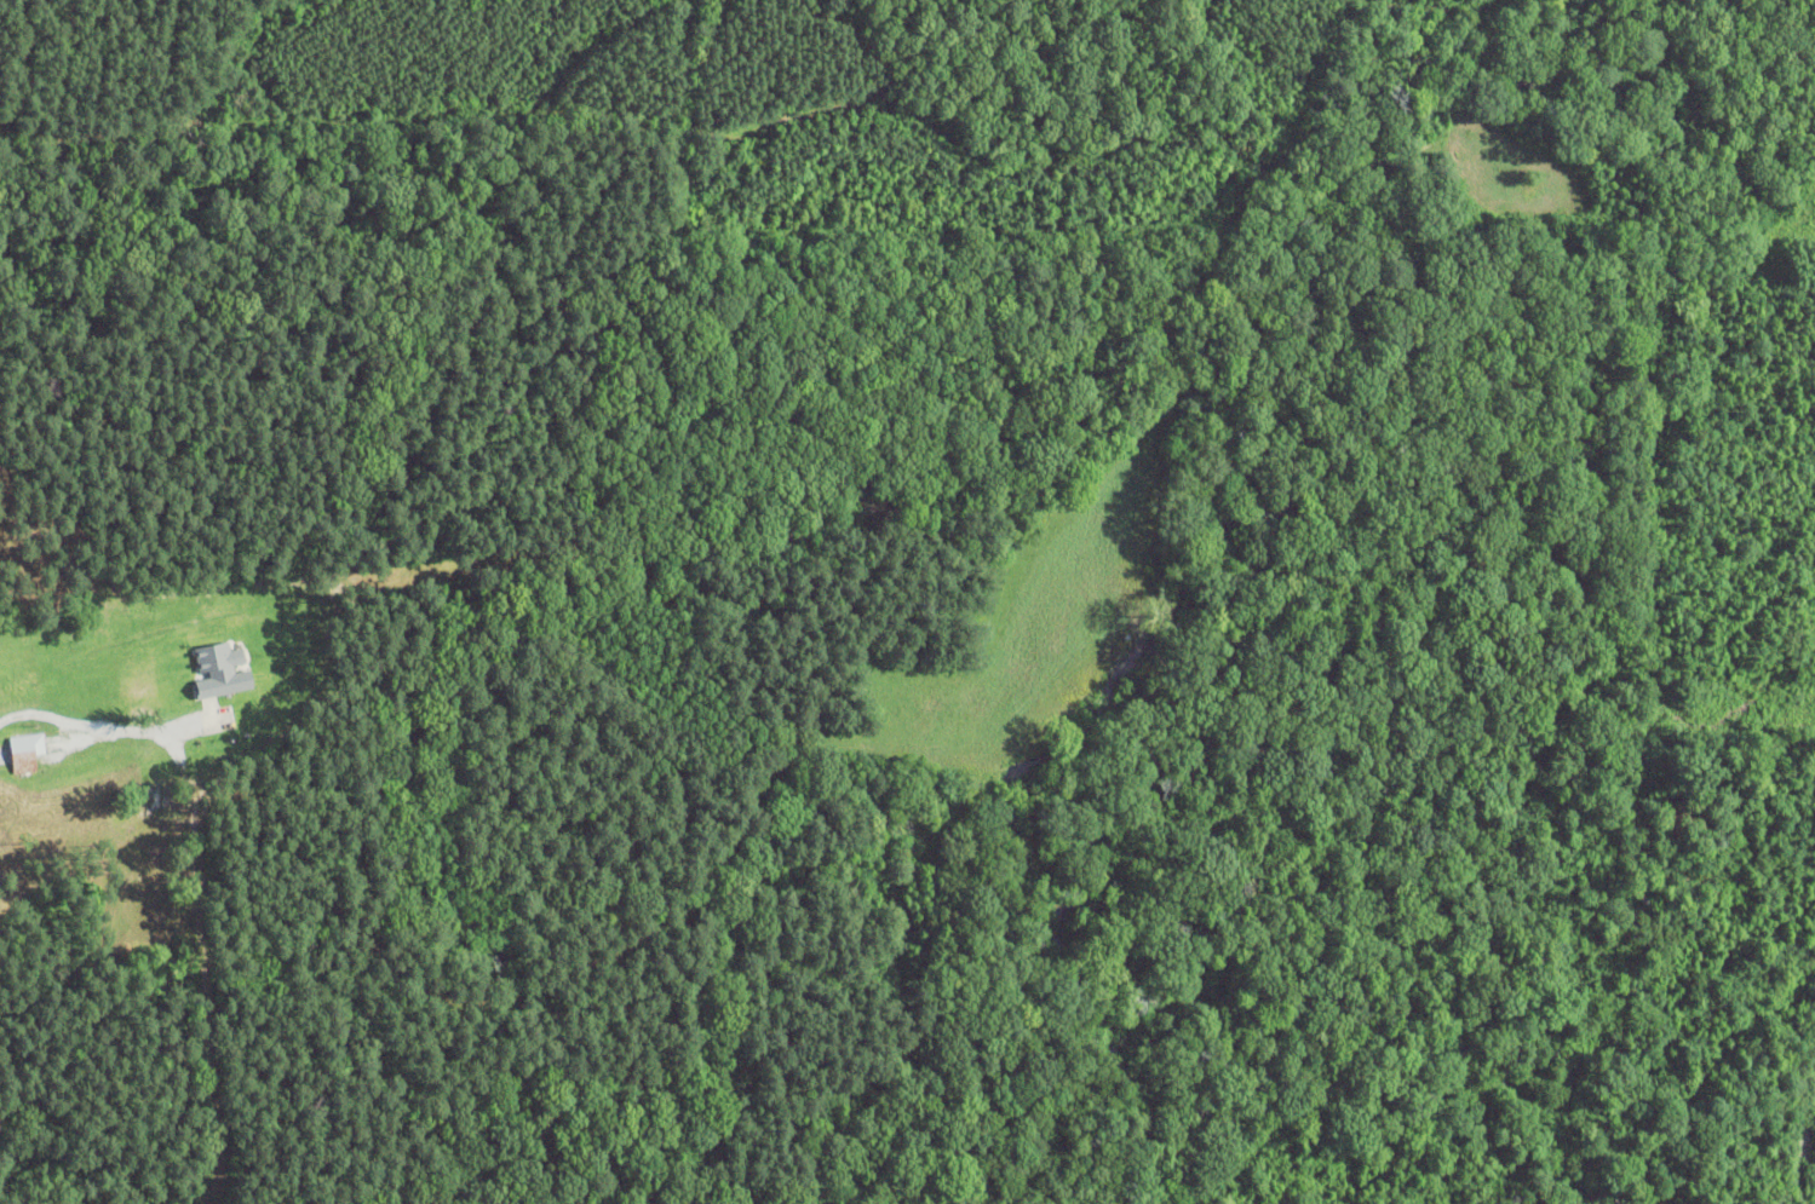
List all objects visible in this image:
building: (27, 753)

